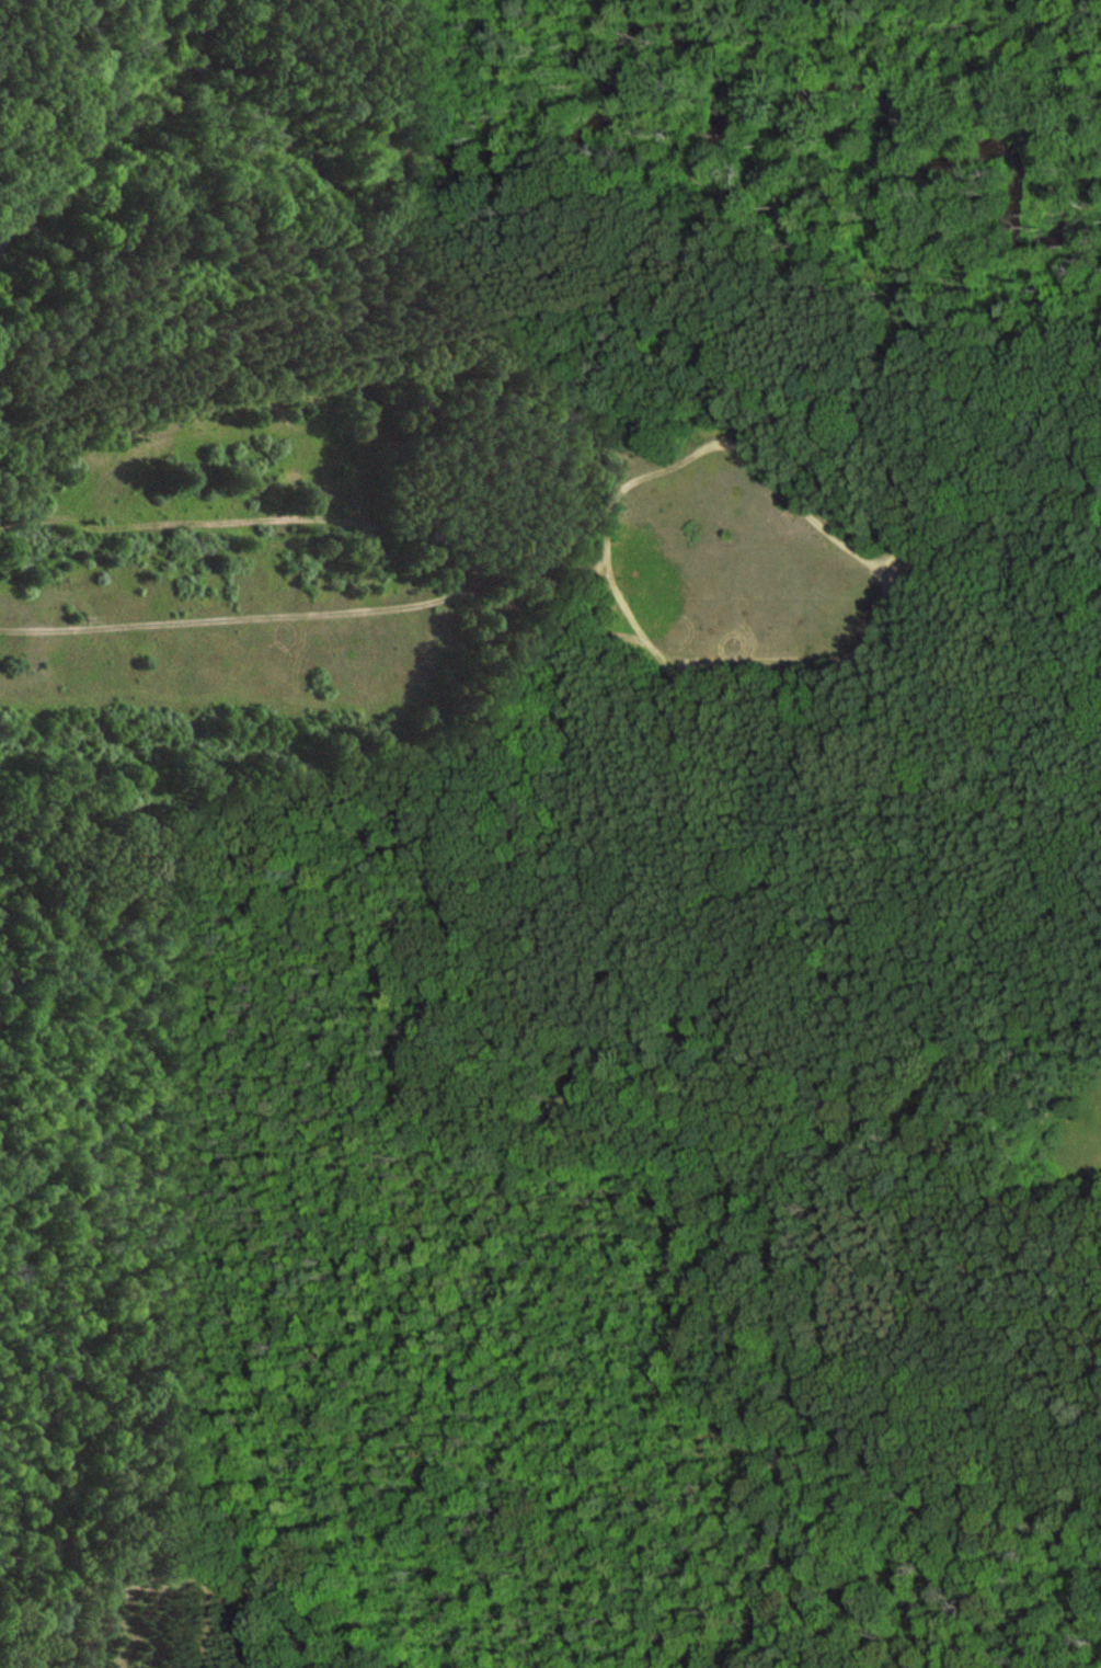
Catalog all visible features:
road: (618, 672)

